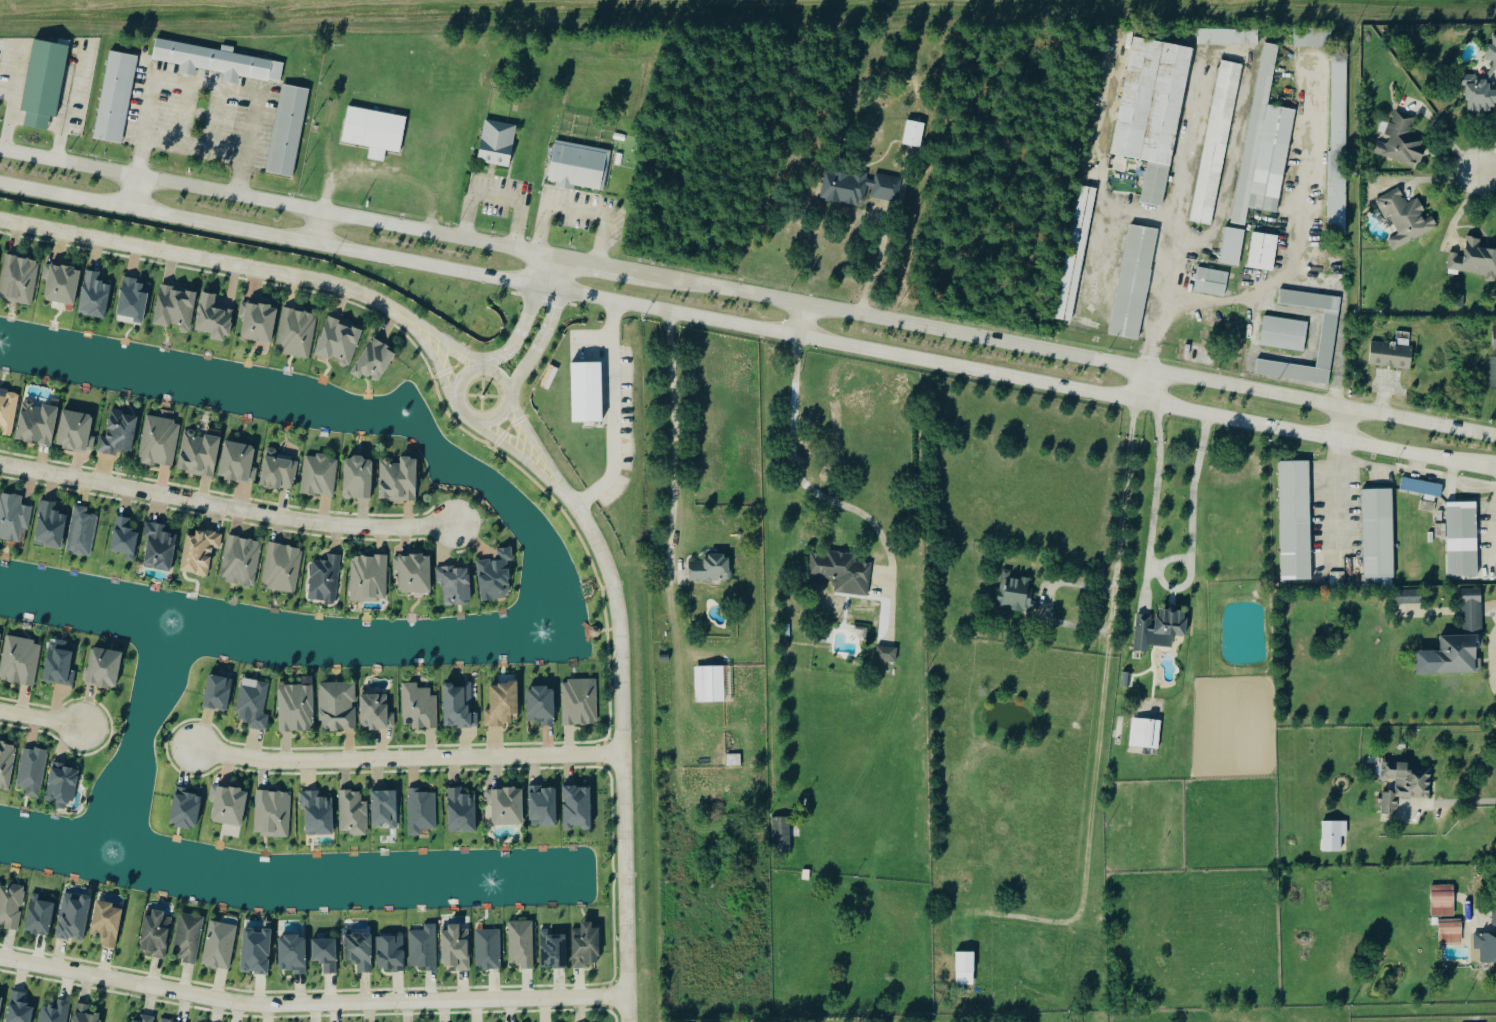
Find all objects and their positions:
building: (1227, 37)
building: (1311, 37)
building: (45, 78)
road: (190, 79)
building: (1483, 86)
building: (115, 98)
building: (1136, 98)
building: (1166, 103)
road: (67, 106)
building: (287, 130)
building: (373, 130)
building: (913, 134)
building: (1254, 134)
building: (1401, 141)
building: (1215, 142)
building: (496, 143)
road: (195, 149)
building: (577, 166)
road: (1485, 172)
building: (859, 187)
road: (499, 197)
road: (577, 206)
building: (1406, 217)
road: (1175, 218)
road: (318, 227)
building: (1231, 247)
building: (1074, 252)
building: (1263, 252)
building: (1475, 259)
road: (217, 261)
road: (877, 268)
building: (19, 279)
building: (1210, 281)
building: (1133, 282)
building: (61, 283)
road: (748, 291)
building: (94, 296)
building: (133, 300)
building: (1308, 300)
building: (175, 308)
road: (527, 315)
building: (213, 317)
road: (801, 319)
building: (258, 322)
road: (546, 326)
road: (747, 326)
building: (296, 333)
building: (1283, 334)
building: (1494, 339)
building: (340, 342)
fountain: (2, 343)
road: (458, 347)
building: (1390, 355)
building: (374, 360)
road: (440, 369)
building: (1291, 372)
building: (1492, 372)
road: (1141, 385)
building: (585, 392)
road: (463, 410)
building: (9, 411)
fountain: (407, 412)
road: (613, 412)
building: (37, 423)
road: (1341, 424)
building: (76, 431)
building: (118, 433)
road: (533, 439)
building: (159, 440)
road: (673, 441)
road: (512, 451)
building: (200, 452)
building: (238, 462)
building: (278, 470)
road: (799, 472)
road: (1407, 472)
road: (1495, 472)
building: (319, 476)
building: (358, 479)
building: (399, 480)
building: (1420, 488)
road: (227, 507)
road: (1337, 511)
building: (13, 517)
building: (1294, 520)
building: (50, 526)
building: (81, 532)
building: (1376, 533)
building: (125, 539)
building: (1461, 540)
building: (159, 547)
building: (200, 552)
building: (241, 561)
building: (282, 567)
building: (712, 569)
building: (842, 572)
building: (414, 573)
building: (496, 575)
building: (369, 578)
building: (325, 579)
building: (456, 585)
road: (1163, 585)
building: (1017, 593)
road: (1115, 598)
building: (1408, 598)
fountain: (178, 626)
building: (1160, 628)
building: (0, 636)
building: (1459, 642)
building: (885, 655)
building: (663, 657)
building: (20, 661)
building: (59, 665)
road: (1492, 665)
building: (104, 668)
building: (1125, 679)
building: (709, 684)
building: (218, 693)
building: (580, 702)
building: (254, 704)
building: (297, 705)
building: (503, 705)
building: (338, 706)
building: (420, 706)
building: (541, 706)
building: (459, 707)
building: (376, 712)
road: (40, 720)
building: (1144, 733)
road: (622, 745)
road: (408, 758)
building: (733, 760)
building: (6, 764)
building: (32, 771)
building: (1406, 783)
building: (62, 785)
building: (229, 805)
road: (1448, 805)
building: (507, 806)
building: (543, 807)
building: (186, 808)
building: (577, 808)
building: (385, 809)
building: (422, 811)
building: (462, 811)
building: (318, 813)
building: (353, 813)
building: (273, 814)
building: (780, 835)
building: (1330, 837)
fountain: (122, 856)
building: (805, 875)
fountain: (492, 880)
building: (1441, 901)
building: (11, 905)
building: (40, 914)
building: (74, 916)
building: (107, 922)
building: (1451, 930)
building: (156, 933)
building: (189, 937)
building: (521, 943)
building: (1487, 943)
building: (220, 944)
building: (587, 944)
building: (456, 946)
building: (424, 947)
building: (489, 948)
building: (360, 949)
building: (553, 949)
building: (256, 950)
building: (391, 951)
building: (292, 952)
building: (326, 953)
building: (966, 967)
building: (1, 1000)
road: (312, 1003)
building: (19, 1008)
building: (86, 1013)
building: (145, 1018)
building: (167, 1020)

